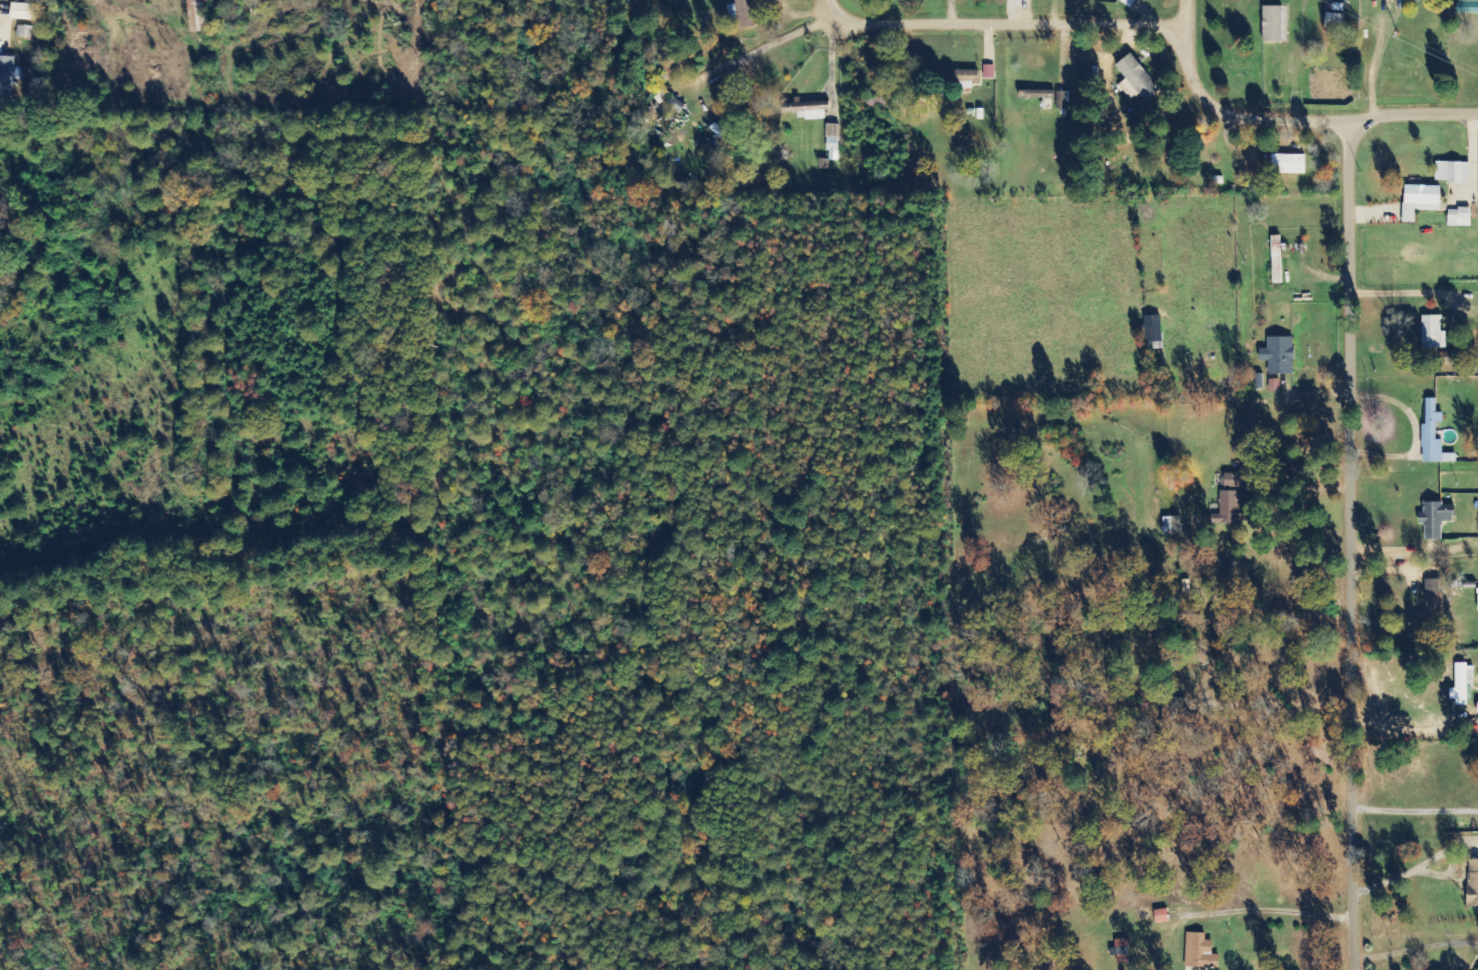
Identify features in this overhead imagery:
building: (1128, 2)
building: (1468, 6)
building: (21, 11)
building: (745, 13)
building: (1334, 21)
building: (1273, 23)
road: (1021, 27)
road: (1199, 37)
road: (800, 48)
building: (989, 71)
building: (7, 75)
building: (1136, 79)
building: (1038, 94)
building: (1062, 100)
building: (806, 108)
road: (1419, 114)
road: (1271, 117)
building: (833, 142)
building: (1288, 164)
building: (1453, 172)
building: (1420, 200)
building: (1459, 217)
building: (1433, 333)
building: (1279, 355)
building: (1274, 386)
building: (1433, 436)
building: (1233, 481)
building: (1232, 507)
building: (1436, 519)
road: (1359, 545)
building: (1434, 595)
building: (1464, 684)
building: (1181, 714)
building: (1472, 884)
building: (1161, 916)
building: (1121, 952)
building: (1200, 952)
building: (1477, 969)

